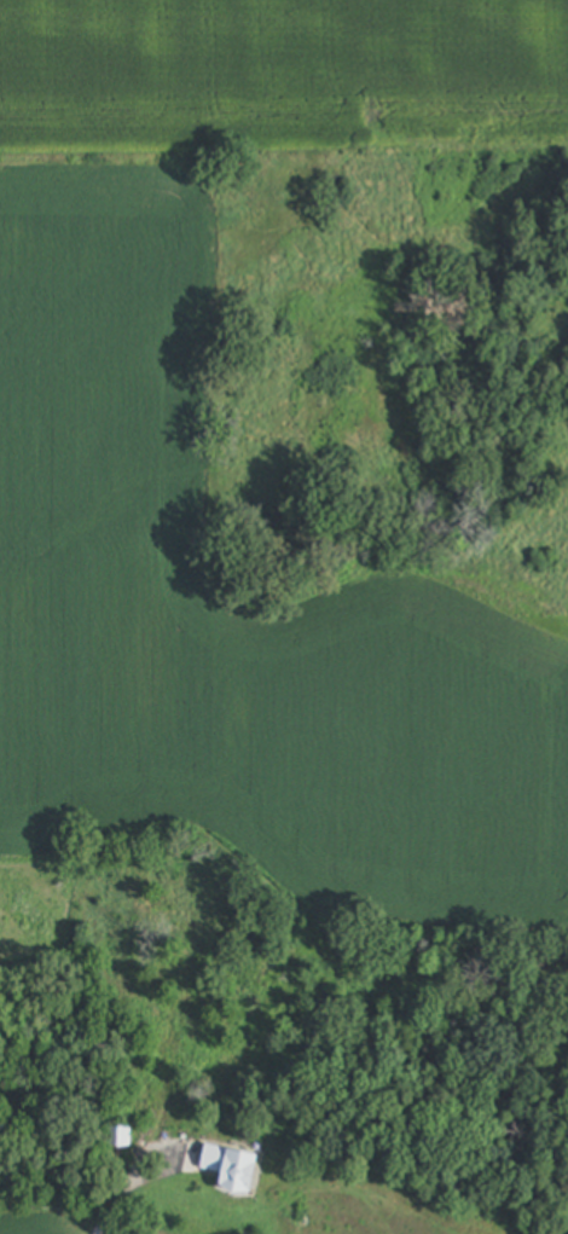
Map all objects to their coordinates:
building: (233, 1169)
road: (97, 1229)

